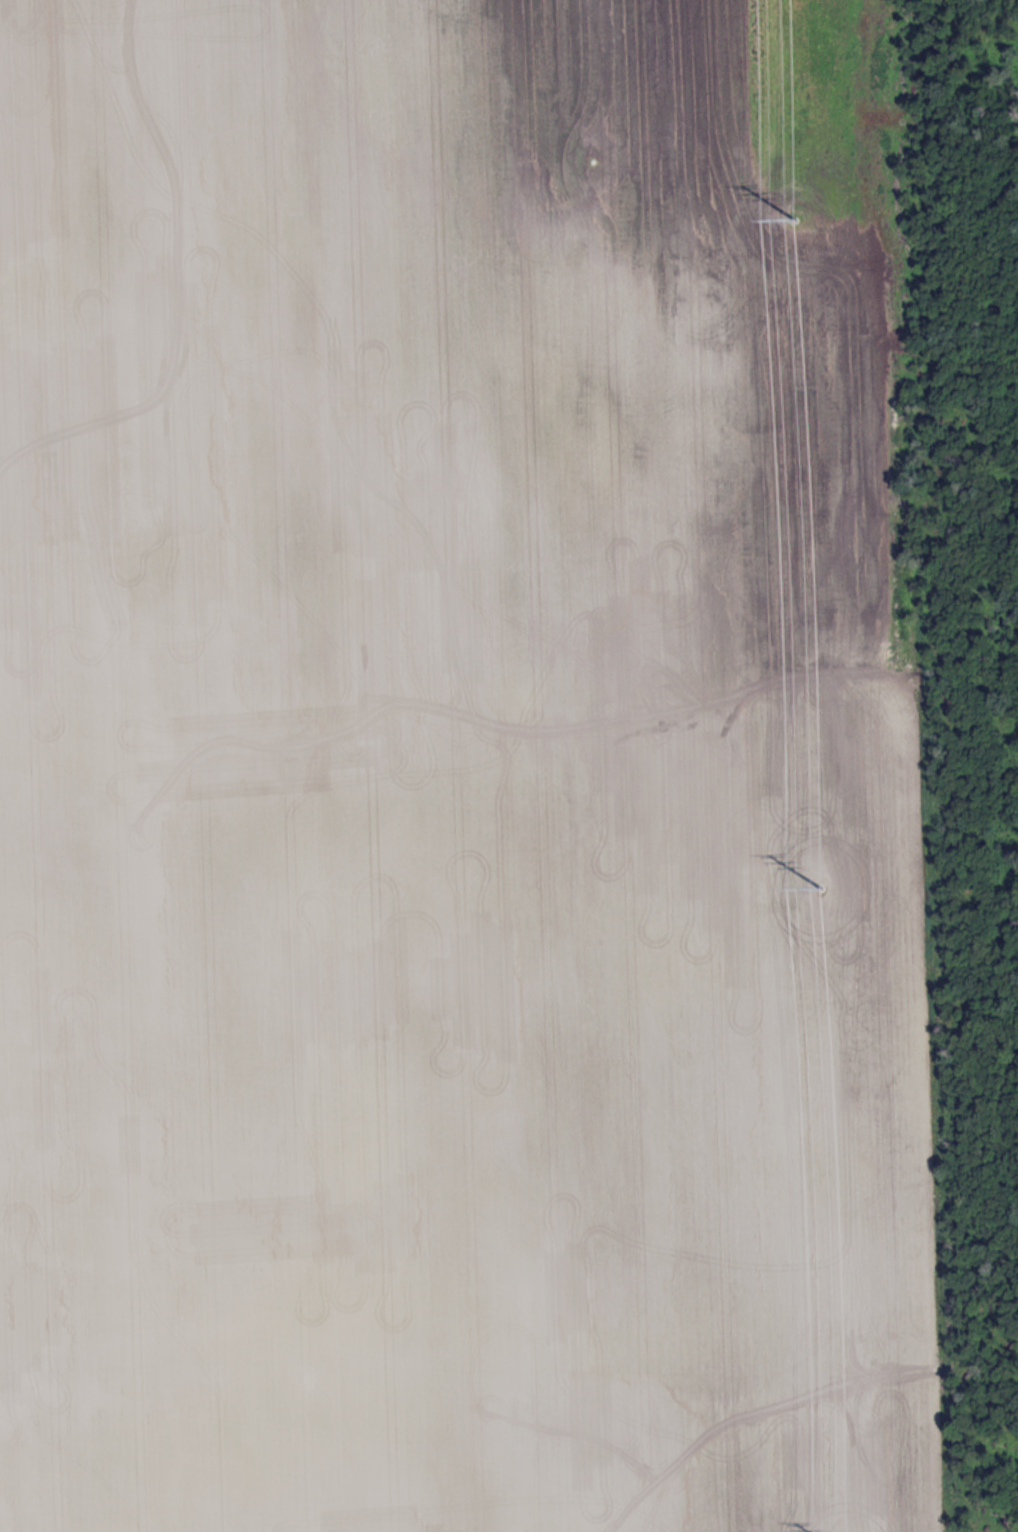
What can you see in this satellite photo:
power tower: (791, 213)
power tower: (809, 878)

